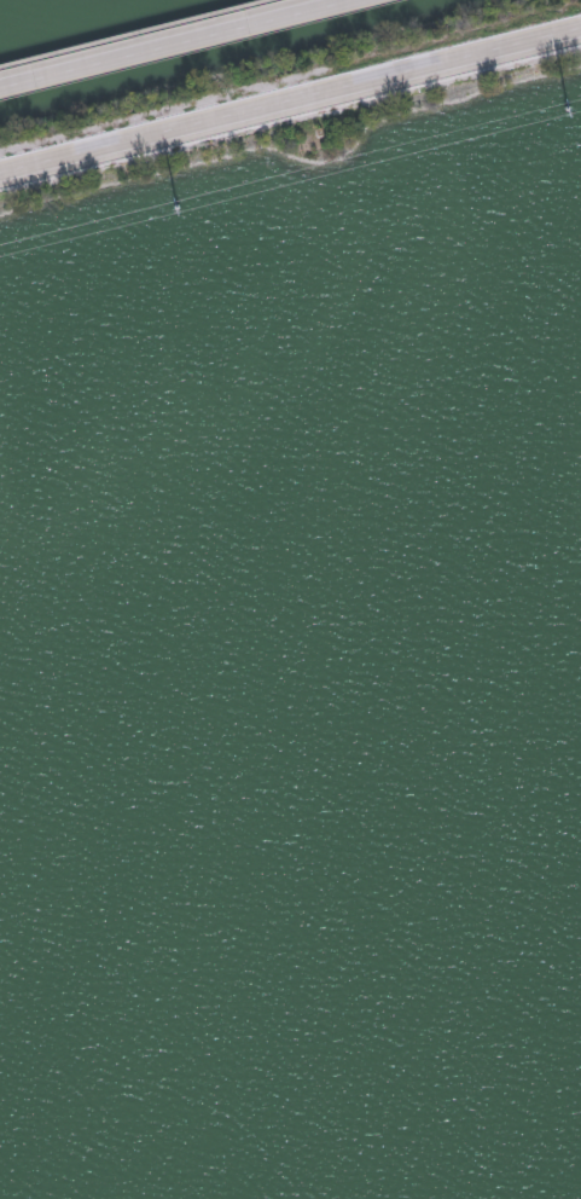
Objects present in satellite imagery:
road: (149, 36)
road: (169, 41)
road: (290, 93)
power tower: (567, 112)
power tower: (175, 209)

